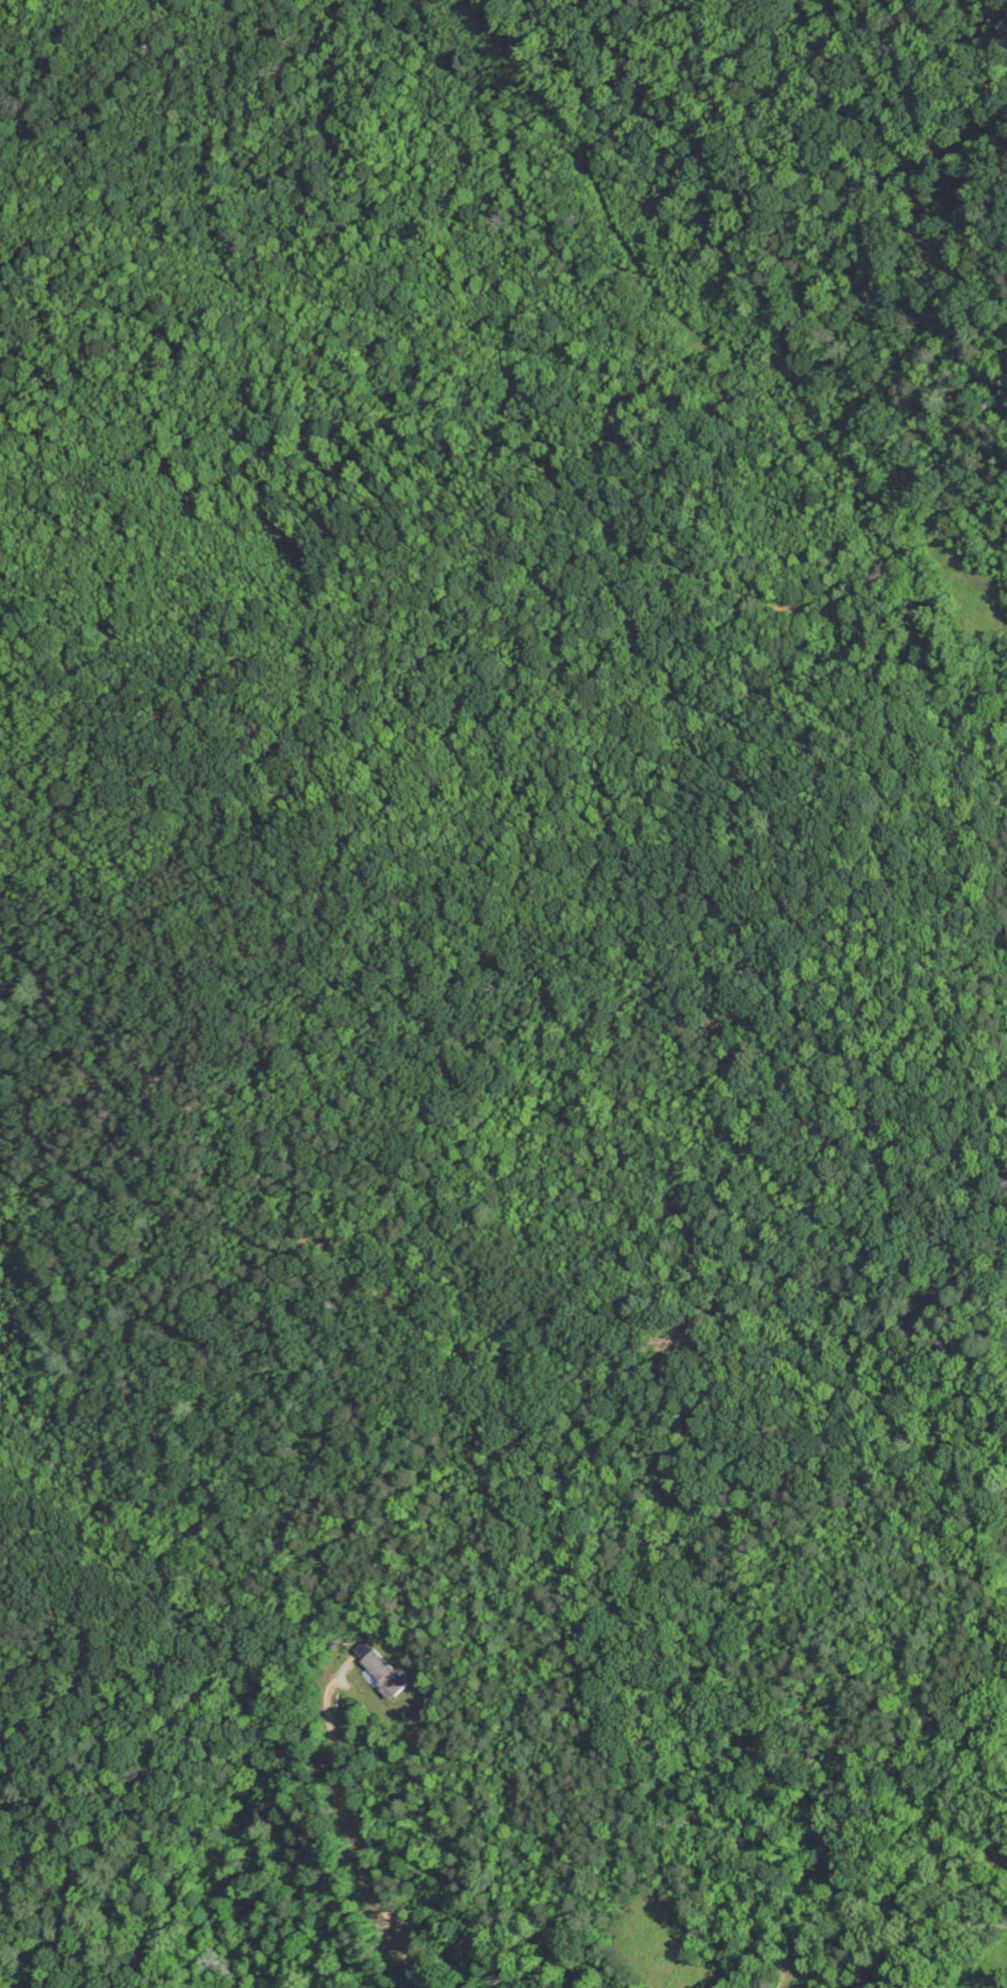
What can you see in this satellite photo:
building: (384, 1670)
road: (357, 1823)
river: (919, 1917)

